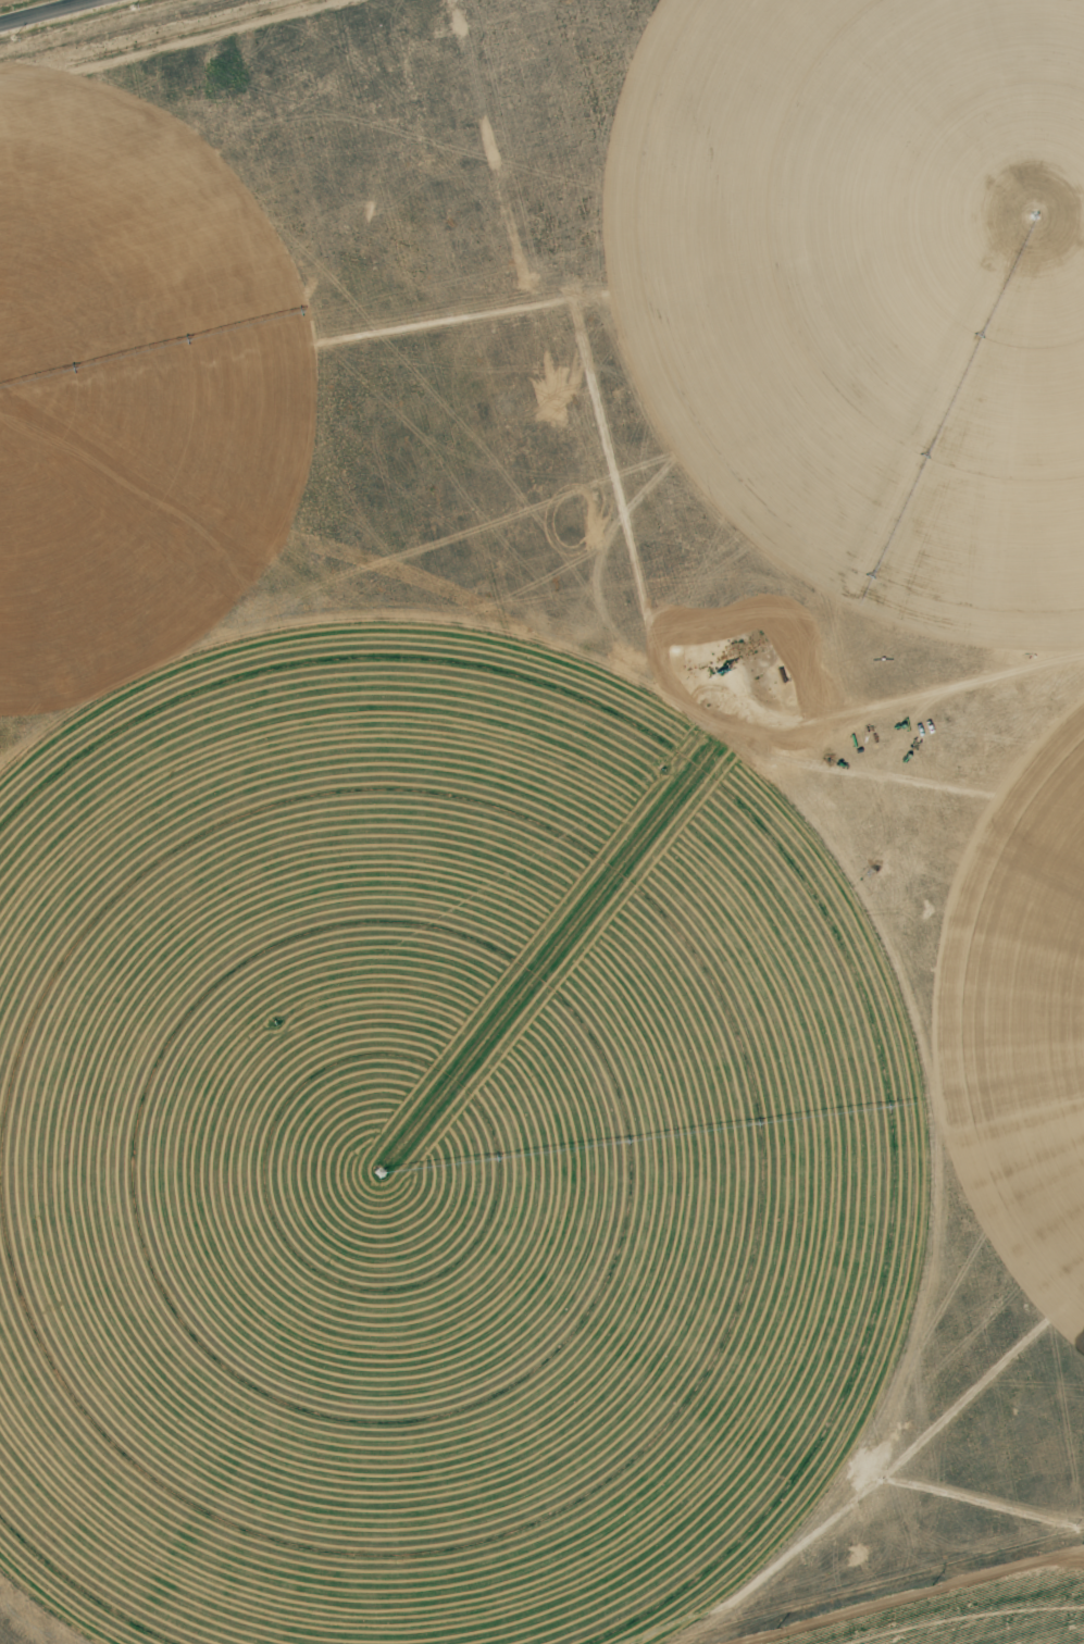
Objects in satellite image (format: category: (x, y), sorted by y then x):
road: (54, 14)
petroleum well: (723, 673)

